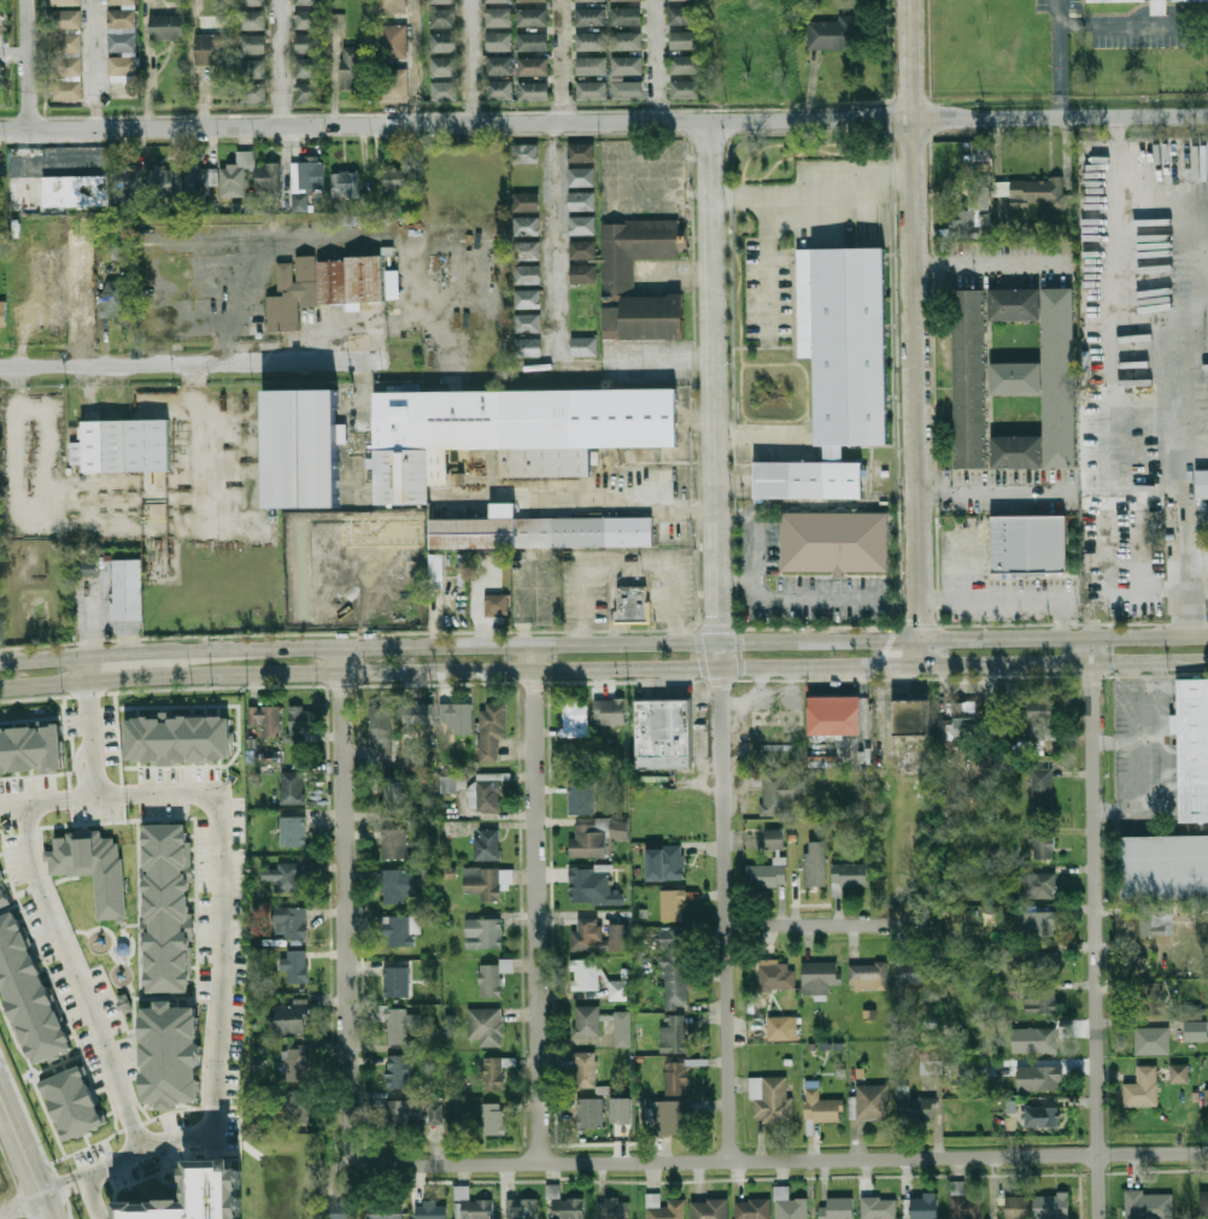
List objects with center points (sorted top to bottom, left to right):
building: (536, 0)
building: (591, 0)
building: (624, 0)
building: (675, 0)
building: (1112, 0)
building: (1185, 0)
building: (71, 1)
building: (124, 1)
building: (312, 1)
building: (445, 1)
building: (503, 1)
building: (256, 2)
building: (397, 5)
building: (1159, 7)
building: (597, 14)
building: (633, 14)
building: (688, 14)
building: (2, 17)
building: (447, 17)
building: (503, 17)
building: (71, 18)
building: (125, 18)
building: (257, 18)
building: (313, 18)
building: (536, 18)
building: (336, 19)
road: (1133, 23)
building: (171, 27)
building: (840, 33)
building: (690, 39)
building: (597, 40)
building: (633, 40)
building: (397, 41)
building: (447, 41)
building: (504, 41)
building: (127, 42)
building: (315, 42)
building: (536, 42)
building: (70, 43)
building: (257, 43)
building: (218, 48)
road: (14, 52)
road: (1059, 58)
road: (890, 59)
road: (567, 60)
road: (662, 60)
road: (288, 61)
road: (417, 61)
road: (468, 61)
road: (30, 63)
road: (95, 63)
road: (197, 63)
building: (691, 63)
building: (598, 64)
building: (634, 64)
building: (72, 65)
building: (127, 65)
building: (504, 65)
building: (448, 66)
building: (538, 66)
building: (258, 68)
building: (315, 68)
building: (357, 68)
building: (393, 86)
building: (74, 88)
building: (599, 88)
building: (634, 88)
building: (691, 88)
building: (505, 89)
building: (1, 90)
building: (448, 90)
building: (257, 92)
building: (315, 92)
building: (538, 92)
road: (902, 95)
road: (604, 121)
building: (580, 153)
building: (524, 154)
road: (663, 159)
building: (236, 175)
building: (312, 175)
road: (610, 176)
building: (581, 177)
building: (164, 180)
building: (200, 180)
building: (268, 180)
building: (395, 182)
building: (125, 183)
building: (346, 184)
building: (54, 189)
road: (817, 189)
building: (1032, 192)
road: (661, 193)
building: (299, 201)
building: (581, 201)
building: (526, 203)
building: (970, 211)
building: (581, 225)
building: (527, 227)
road: (329, 234)
road: (555, 242)
building: (110, 250)
building: (81, 251)
building: (527, 251)
building: (581, 251)
road: (1118, 260)
road: (764, 264)
road: (992, 264)
building: (581, 274)
building: (527, 275)
building: (616, 275)
road: (680, 275)
building: (392, 283)
building: (323, 286)
road: (1197, 287)
building: (76, 299)
building: (528, 299)
building: (116, 300)
building: (1011, 303)
building: (2, 313)
building: (528, 323)
road: (916, 330)
road: (364, 334)
road: (1189, 341)
building: (528, 346)
building: (584, 346)
road: (665, 361)
road: (193, 362)
building: (835, 370)
building: (966, 376)
building: (1056, 376)
building: (1013, 377)
road: (194, 427)
road: (14, 430)
building: (506, 432)
road: (760, 440)
building: (119, 445)
building: (298, 447)
building: (1014, 451)
road: (1116, 473)
building: (1202, 484)
road: (996, 493)
road: (1198, 515)
building: (382, 529)
building: (538, 531)
road: (1108, 535)
building: (834, 540)
building: (1207, 540)
building: (1034, 545)
road: (747, 549)
road: (627, 558)
road: (1198, 558)
building: (441, 562)
building: (83, 568)
building: (369, 568)
gas station: (374, 584)
building: (123, 588)
building: (375, 594)
road: (808, 597)
road: (1190, 597)
road: (1198, 598)
road: (1009, 602)
building: (628, 603)
building: (497, 604)
road: (721, 640)
road: (603, 644)
road: (84, 667)
road: (603, 667)
building: (609, 710)
building: (831, 714)
building: (418, 715)
building: (457, 716)
building: (908, 716)
building: (575, 717)
building: (266, 719)
building: (1039, 719)
building: (303, 720)
building: (961, 720)
building: (380, 723)
building: (491, 728)
building: (659, 733)
road: (89, 737)
building: (178, 738)
building: (1190, 748)
building: (30, 750)
building: (407, 758)
building: (584, 758)
building: (292, 787)
building: (776, 790)
building: (1043, 790)
building: (475, 792)
building: (393, 797)
building: (580, 799)
building: (293, 831)
building: (775, 839)
building: (587, 840)
building: (394, 842)
building: (487, 844)
building: (1043, 848)
road: (218, 860)
building: (665, 863)
building: (1162, 867)
building: (94, 871)
building: (809, 873)
building: (767, 874)
building: (850, 874)
building: (283, 875)
building: (0, 880)
building: (485, 881)
building: (1039, 885)
building: (399, 886)
building: (592, 886)
building: (2, 898)
road: (346, 902)
road: (534, 904)
building: (673, 906)
building: (166, 909)
building: (291, 920)
building: (1155, 921)
building: (1039, 924)
road: (819, 925)
road: (1093, 927)
building: (399, 930)
building: (617, 932)
building: (483, 933)
building: (588, 933)
building: (1045, 963)
building: (297, 966)
building: (675, 967)
building: (914, 972)
building: (585, 974)
road: (74, 977)
building: (493, 977)
building: (778, 977)
building: (820, 977)
building: (867, 977)
building: (395, 981)
building: (620, 990)
building: (1008, 990)
building: (28, 995)
building: (1150, 1000)
building: (1040, 1002)
building: (124, 1003)
building: (293, 1018)
building: (586, 1021)
building: (395, 1022)
building: (1194, 1024)
building: (486, 1026)
building: (622, 1028)
building: (782, 1028)
building: (675, 1035)
building: (1034, 1041)
building: (1153, 1041)
building: (171, 1054)
building: (298, 1067)
building: (585, 1069)
building: (966, 1071)
building: (397, 1072)
building: (1179, 1073)
building: (493, 1074)
building: (676, 1077)
building: (1039, 1078)
building: (1142, 1088)
building: (769, 1100)
building: (872, 1101)
building: (1207, 1102)
building: (74, 1104)
building: (299, 1106)
building: (821, 1107)
building: (914, 1107)
building: (621, 1110)
building: (435, 1113)
building: (590, 1113)
building: (403, 1118)
building: (673, 1118)
building: (1045, 1118)
building: (493, 1119)
road: (27, 1156)
road: (124, 1156)
road: (781, 1160)
building: (194, 1195)
road: (20, 1202)
building: (963, 1203)
building: (1203, 1203)
building: (1149, 1205)
building: (471, 1206)
building: (565, 1206)
building: (790, 1206)
building: (925, 1206)
building: (1051, 1207)
building: (522, 1208)
building: (612, 1208)
building: (664, 1208)
building: (752, 1208)
building: (837, 1208)
building: (879, 1208)
building: (1018, 1208)
building: (342, 1209)
building: (385, 1209)
building: (430, 1209)
building: (710, 1209)

